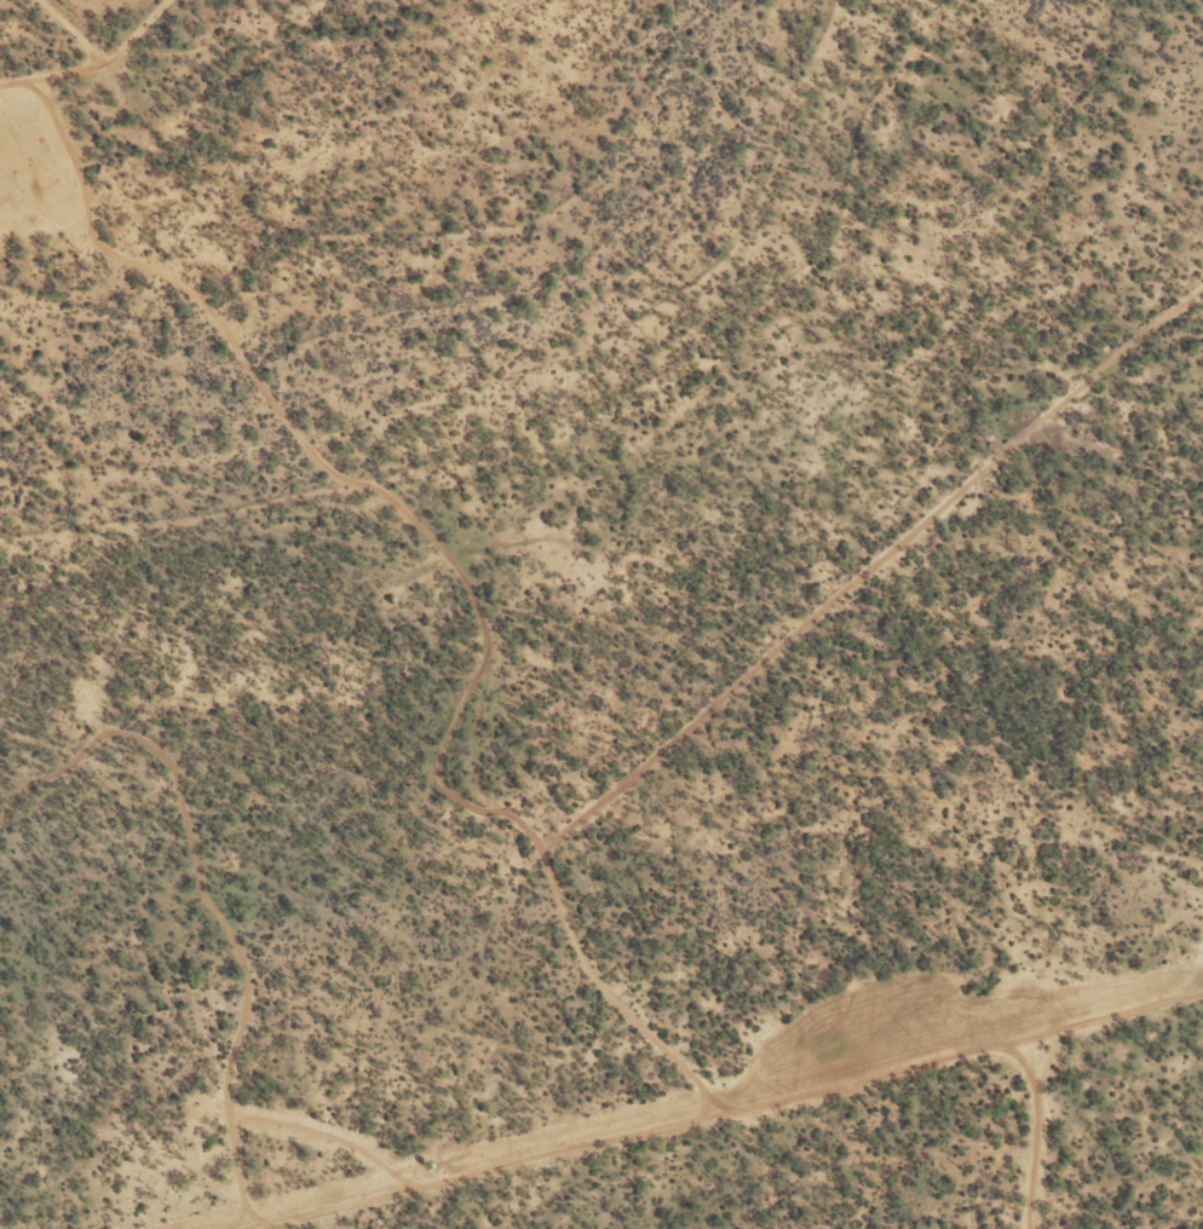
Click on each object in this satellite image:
road: (87, 59)
road: (202, 952)

